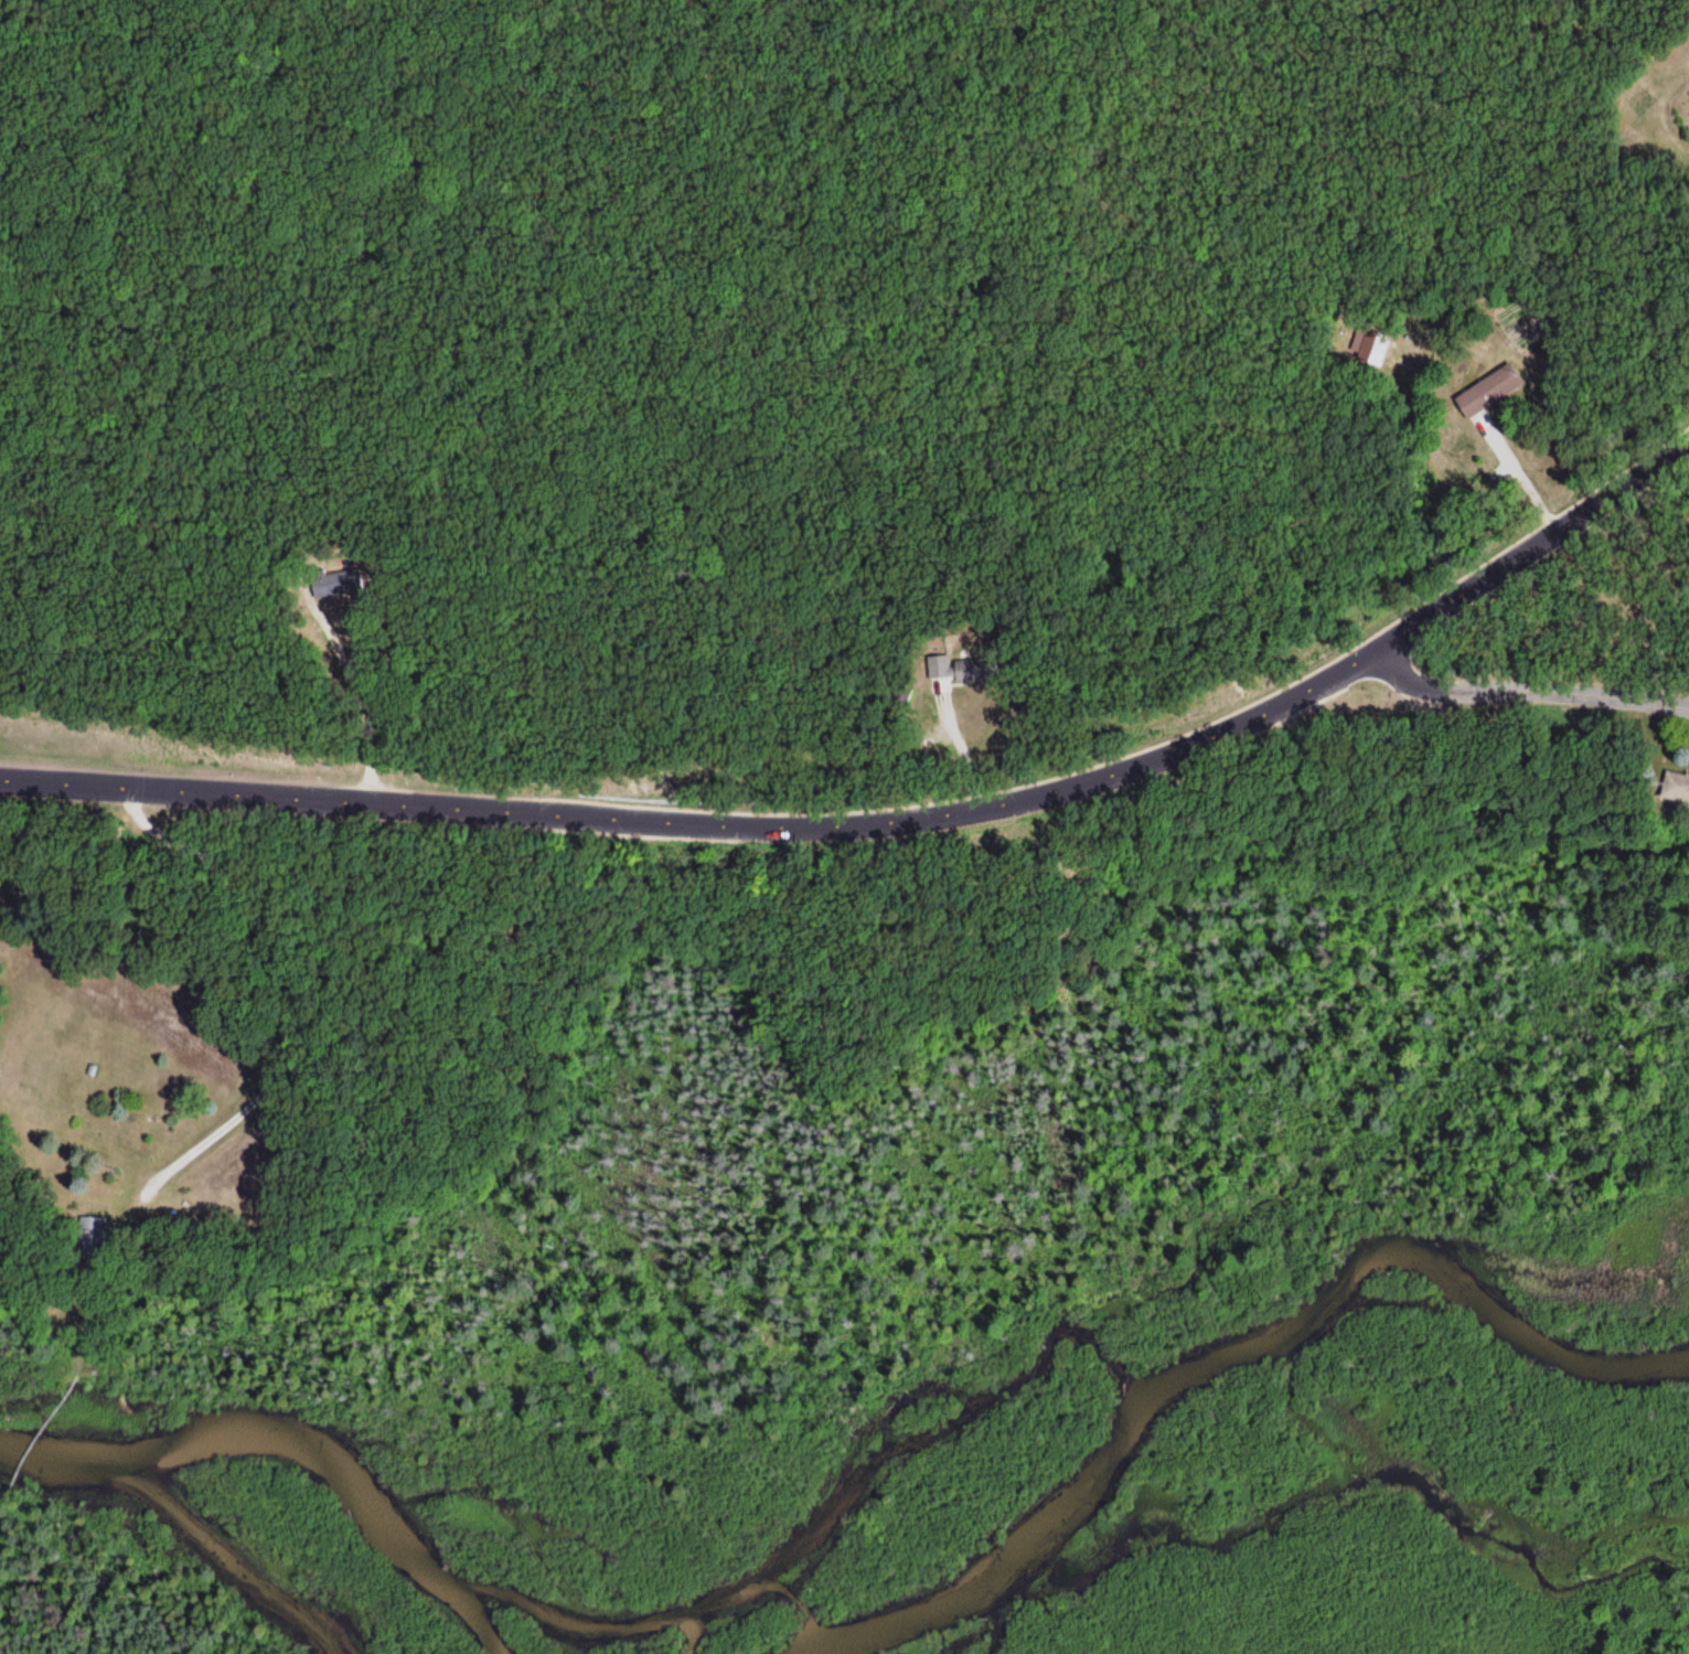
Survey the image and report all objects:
building: (1488, 392)
building: (333, 583)
building: (958, 672)
road: (1522, 697)
building: (1676, 789)
road: (892, 828)
road: (279, 982)
building: (92, 1238)
river: (1227, 1352)
river: (288, 1444)

